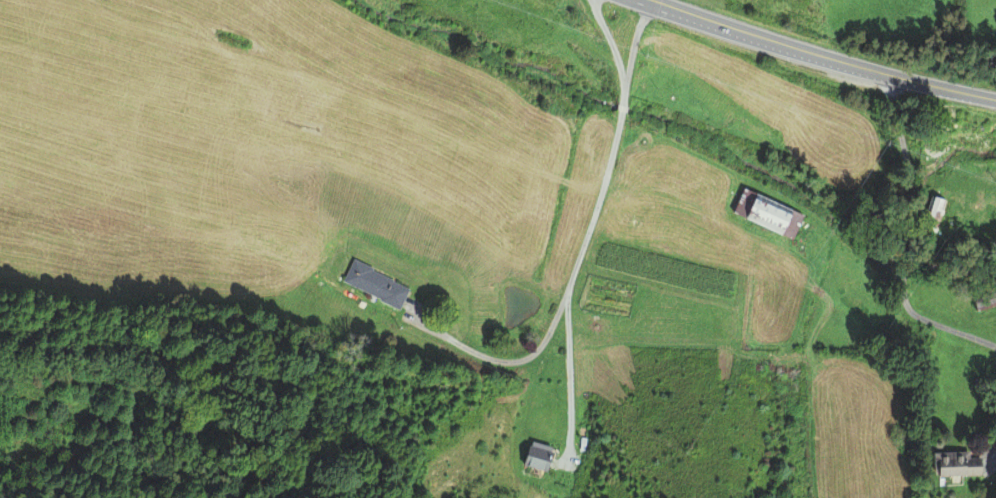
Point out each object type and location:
road: (823, 55)
building: (931, 214)
building: (766, 215)
building: (374, 285)
building: (984, 302)
building: (956, 465)

